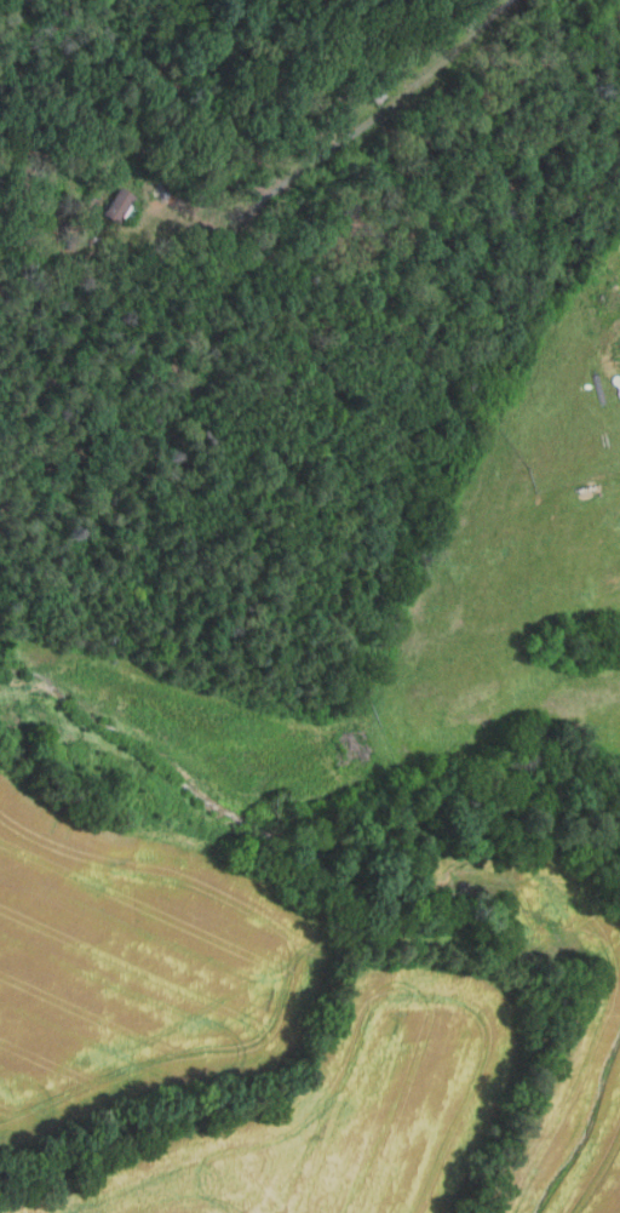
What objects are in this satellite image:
road: (348, 138)
building: (117, 212)
building: (71, 236)

